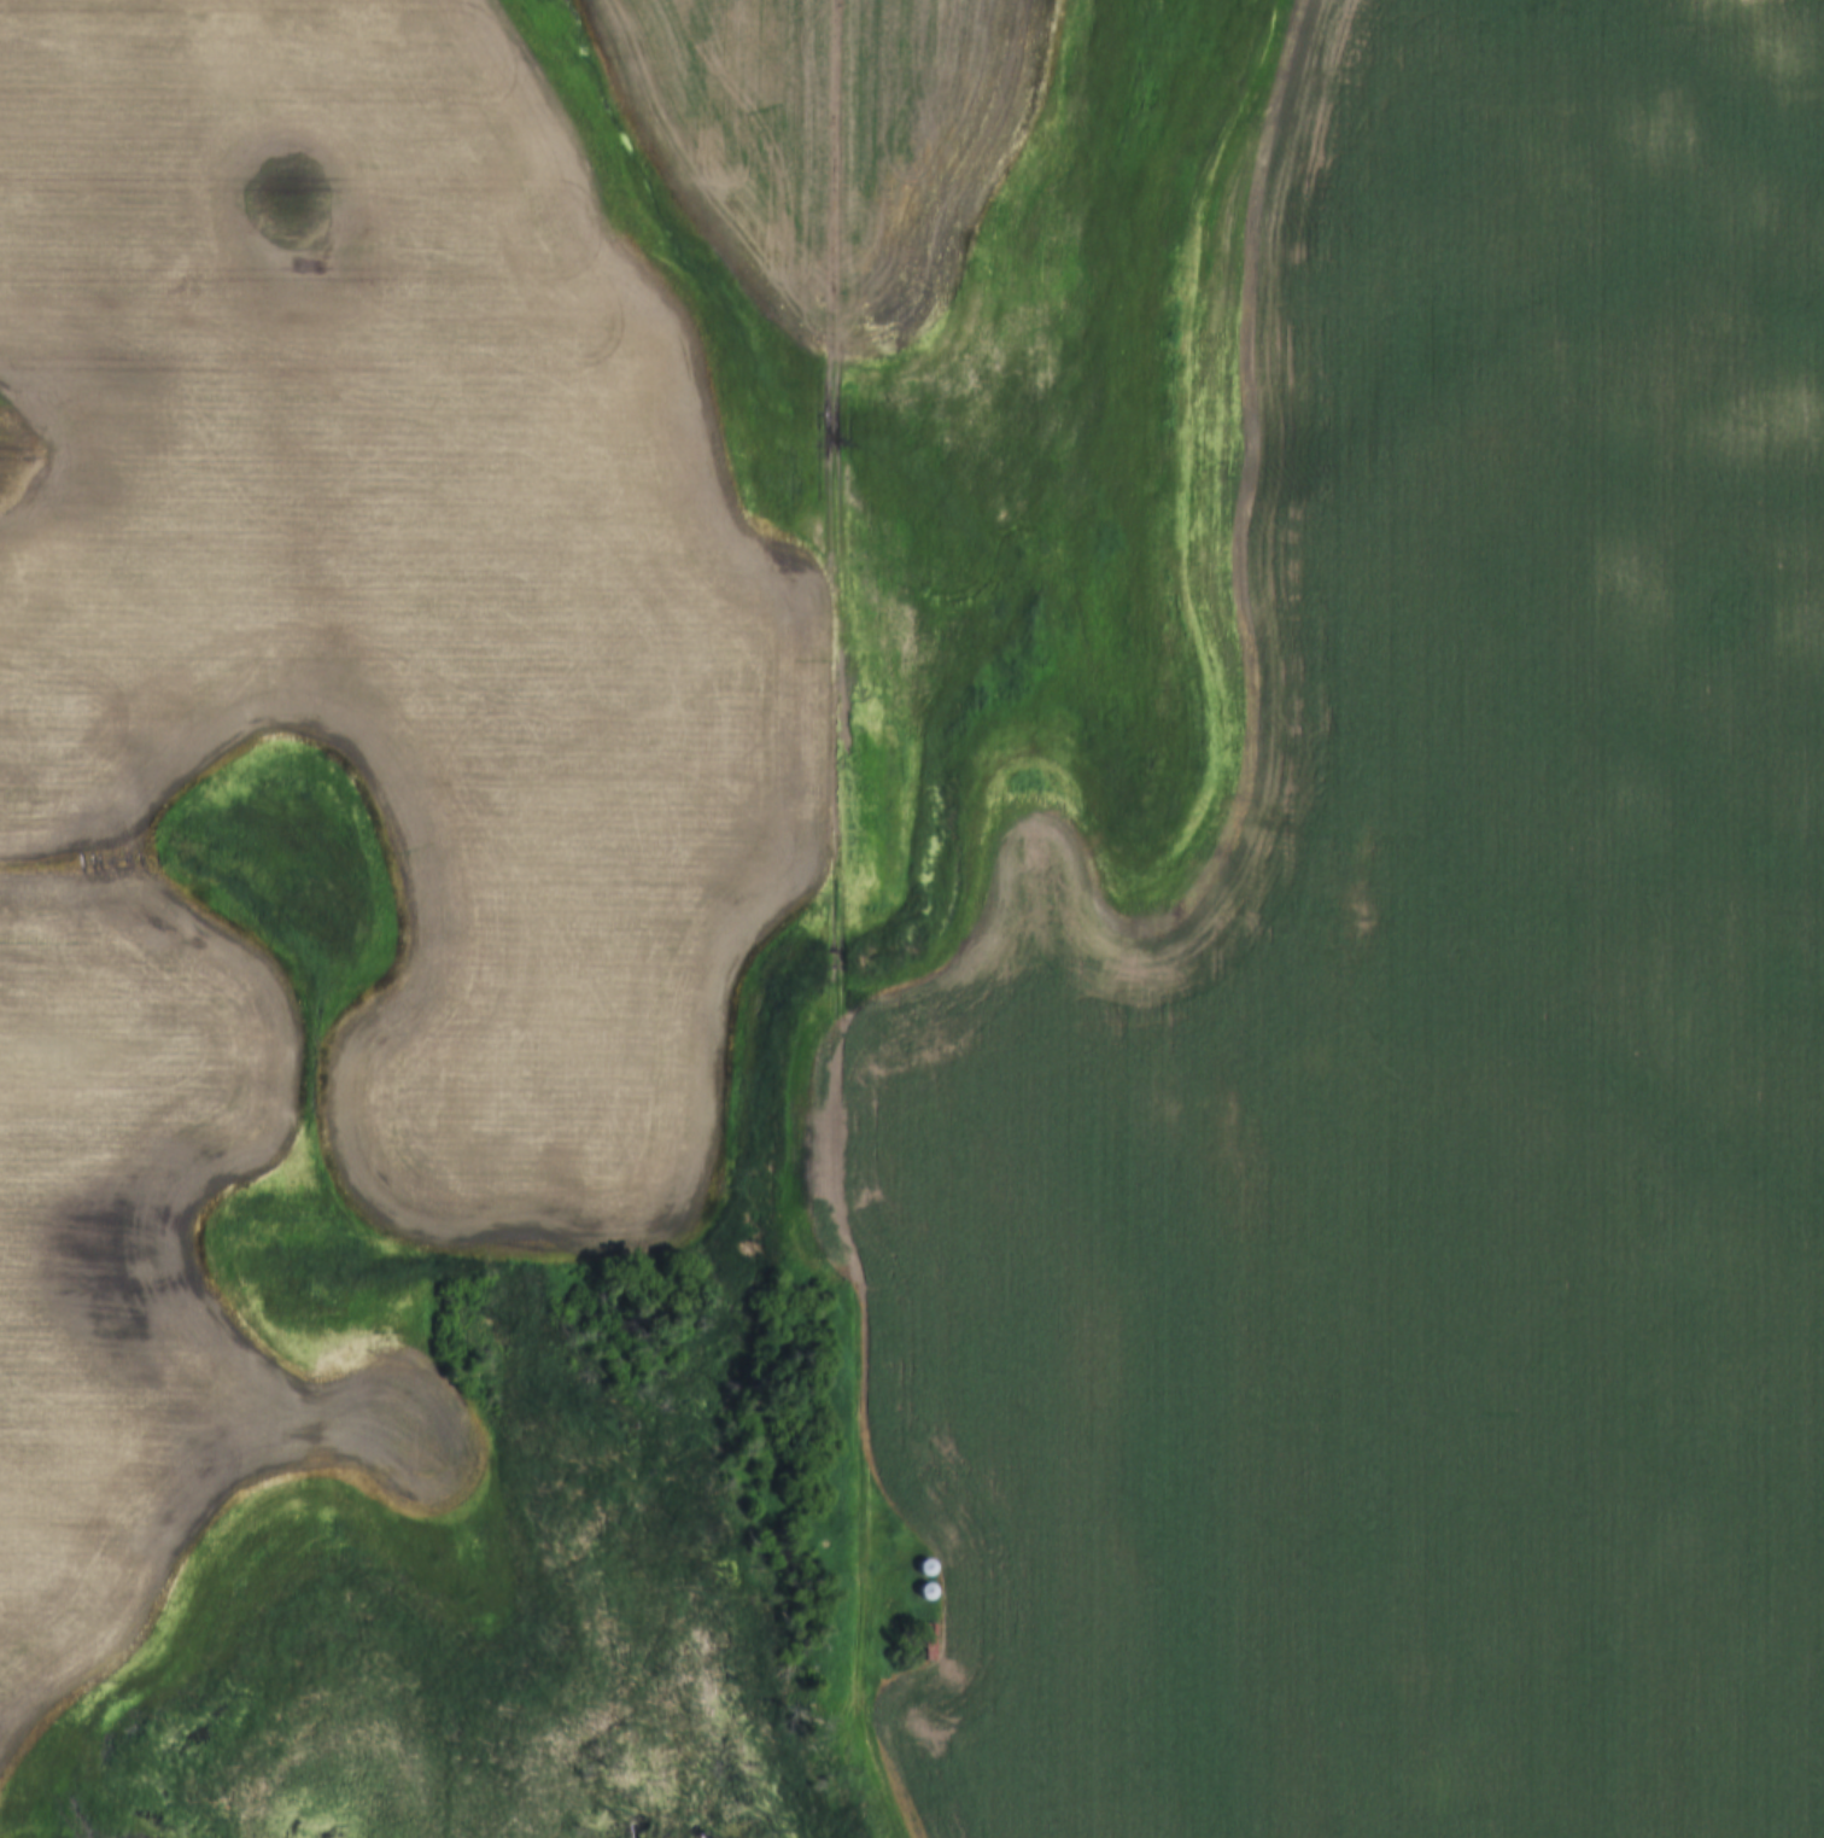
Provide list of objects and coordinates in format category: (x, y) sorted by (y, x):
building: (924, 1569)
building: (924, 1593)
building: (926, 1644)

